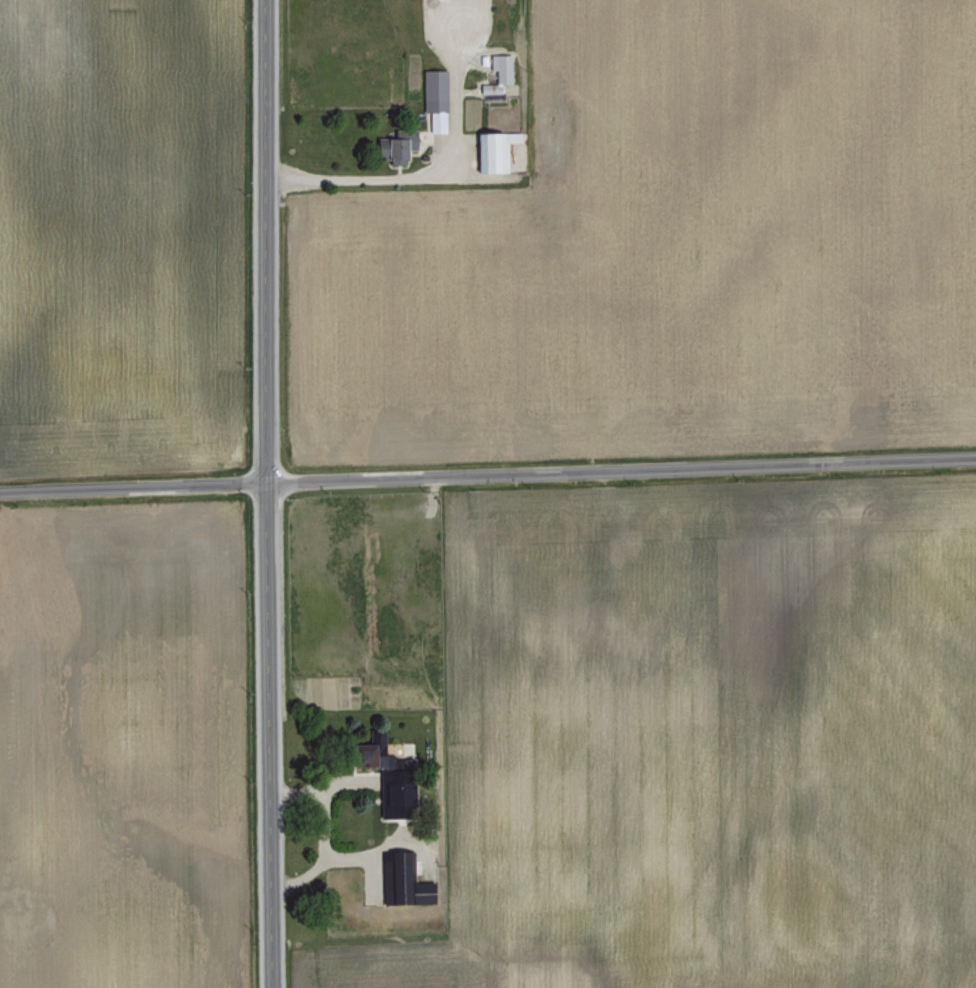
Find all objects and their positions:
building: (497, 71)
building: (434, 97)
building: (423, 136)
building: (398, 144)
building: (493, 148)
road: (364, 177)
road: (487, 474)
road: (264, 494)
building: (388, 769)
building: (406, 880)

